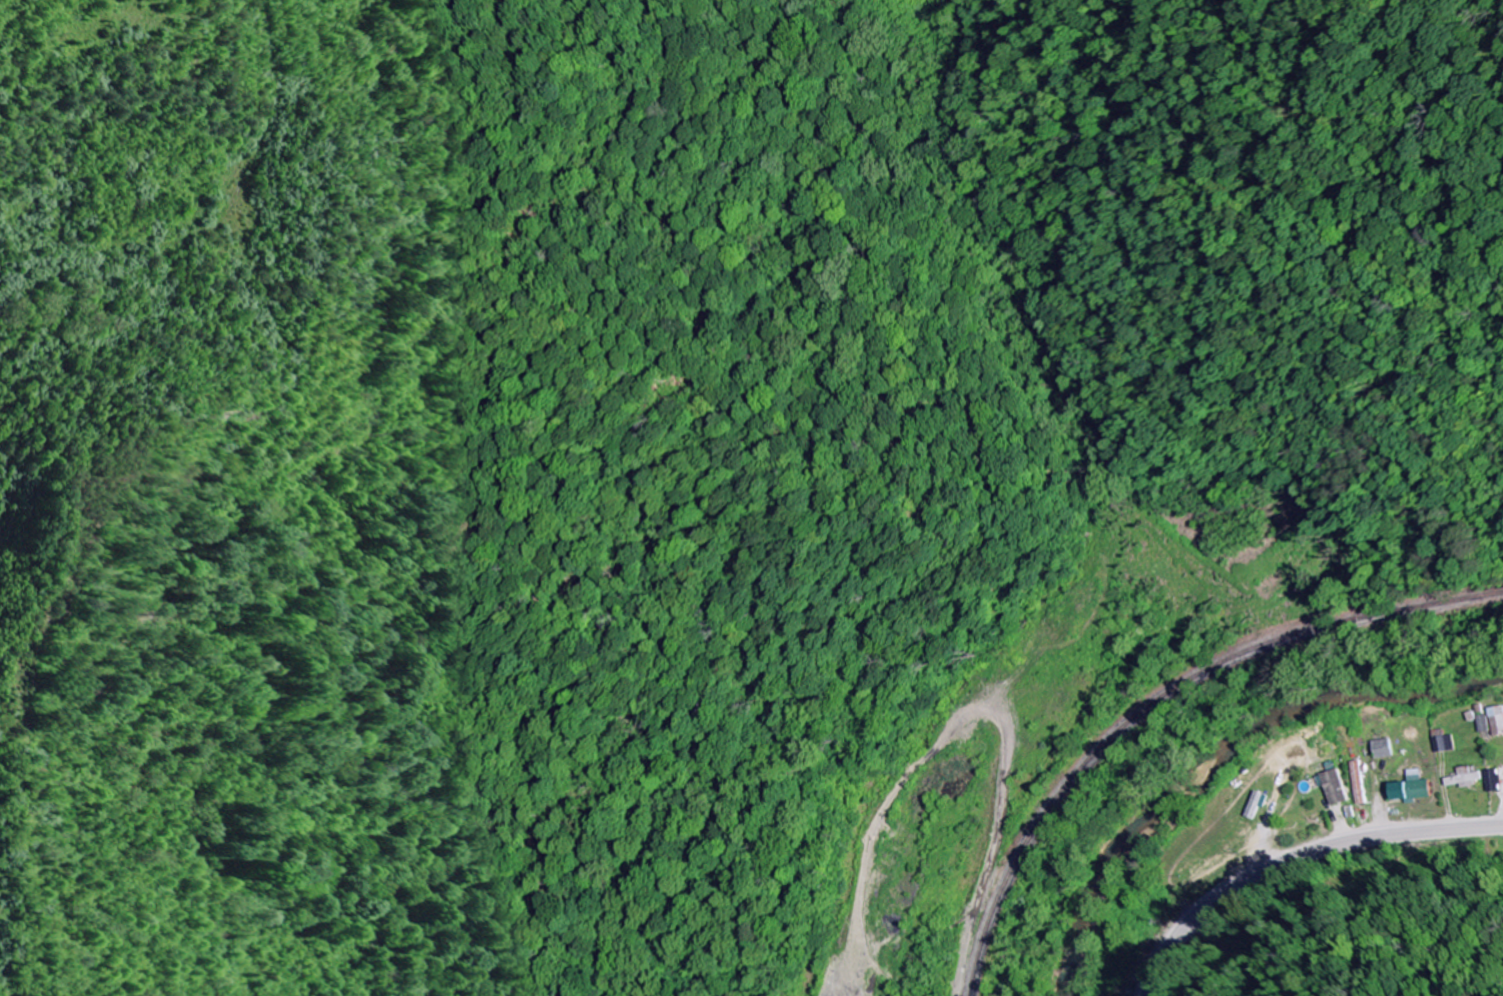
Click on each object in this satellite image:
railway: (1161, 700)
building: (1496, 721)
building: (1483, 724)
building: (1444, 745)
building: (1382, 749)
building: (1463, 779)
building: (1492, 781)
building: (1358, 783)
building: (1411, 788)
building: (1255, 806)
road: (1293, 859)

